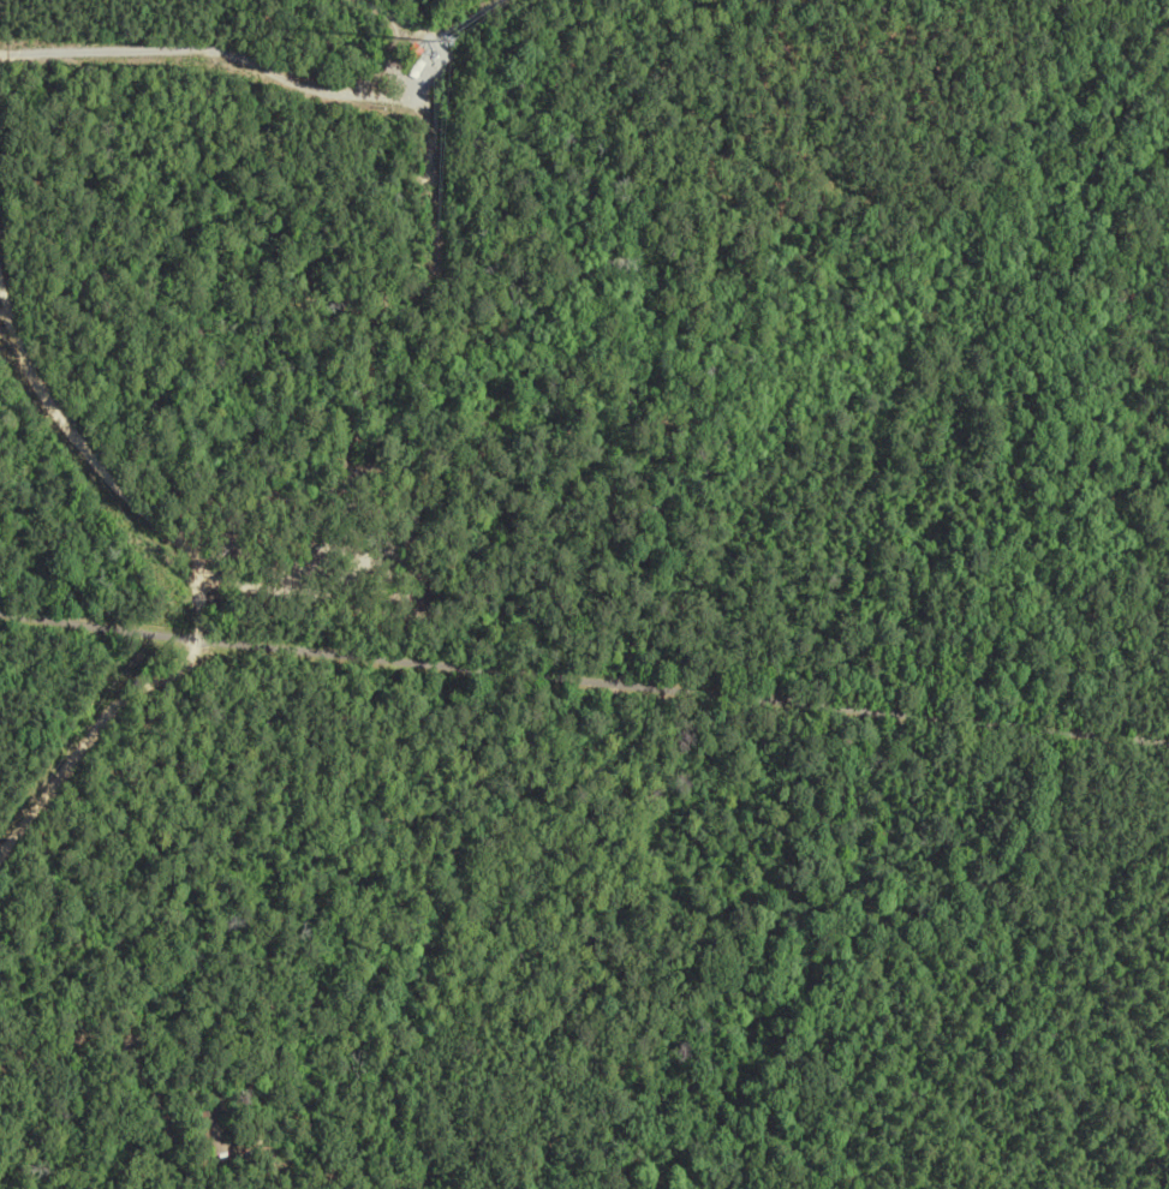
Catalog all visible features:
road: (211, 50)
building: (416, 71)
road: (2, 311)
road: (198, 581)
road: (583, 682)
road: (127, 1038)

